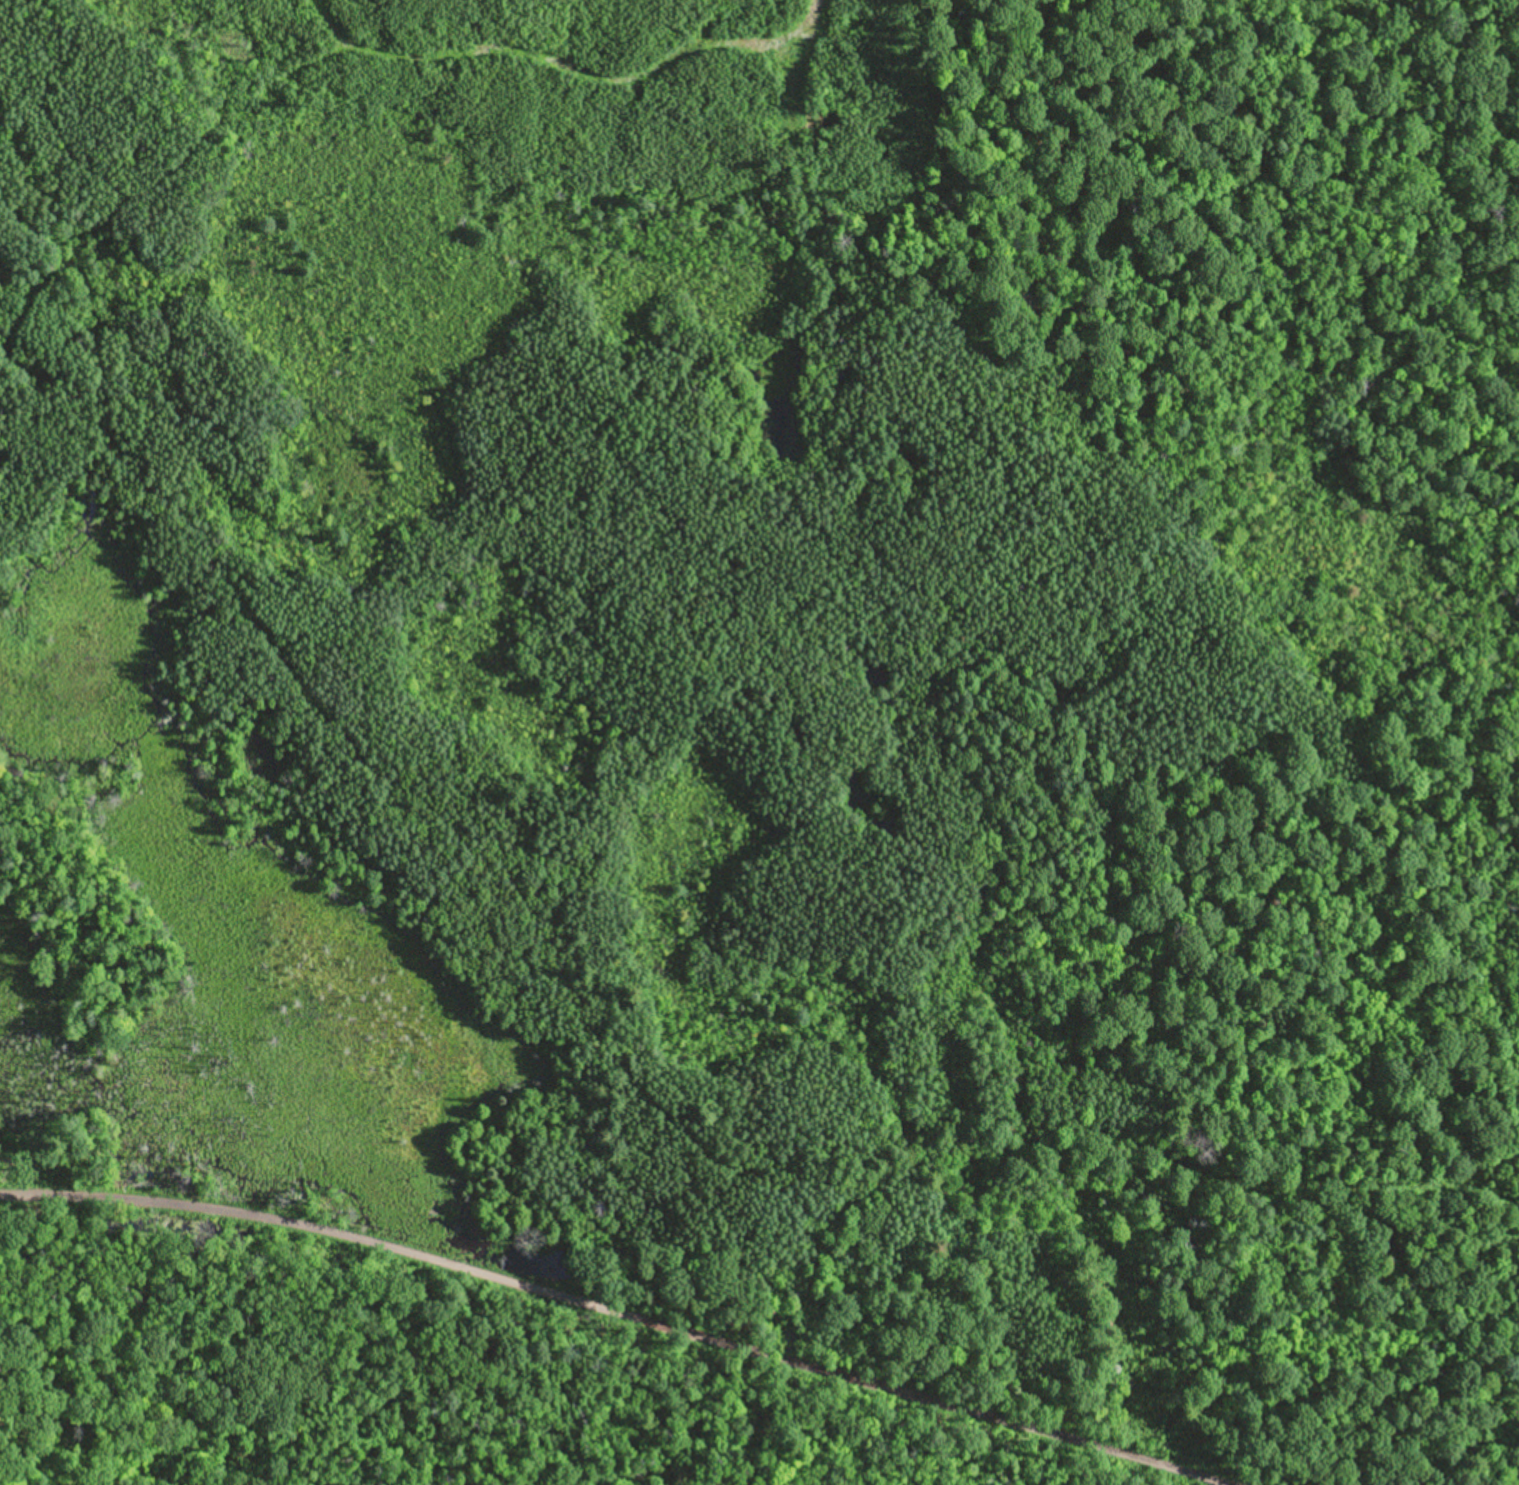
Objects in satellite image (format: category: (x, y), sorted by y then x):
road: (632, 1313)

